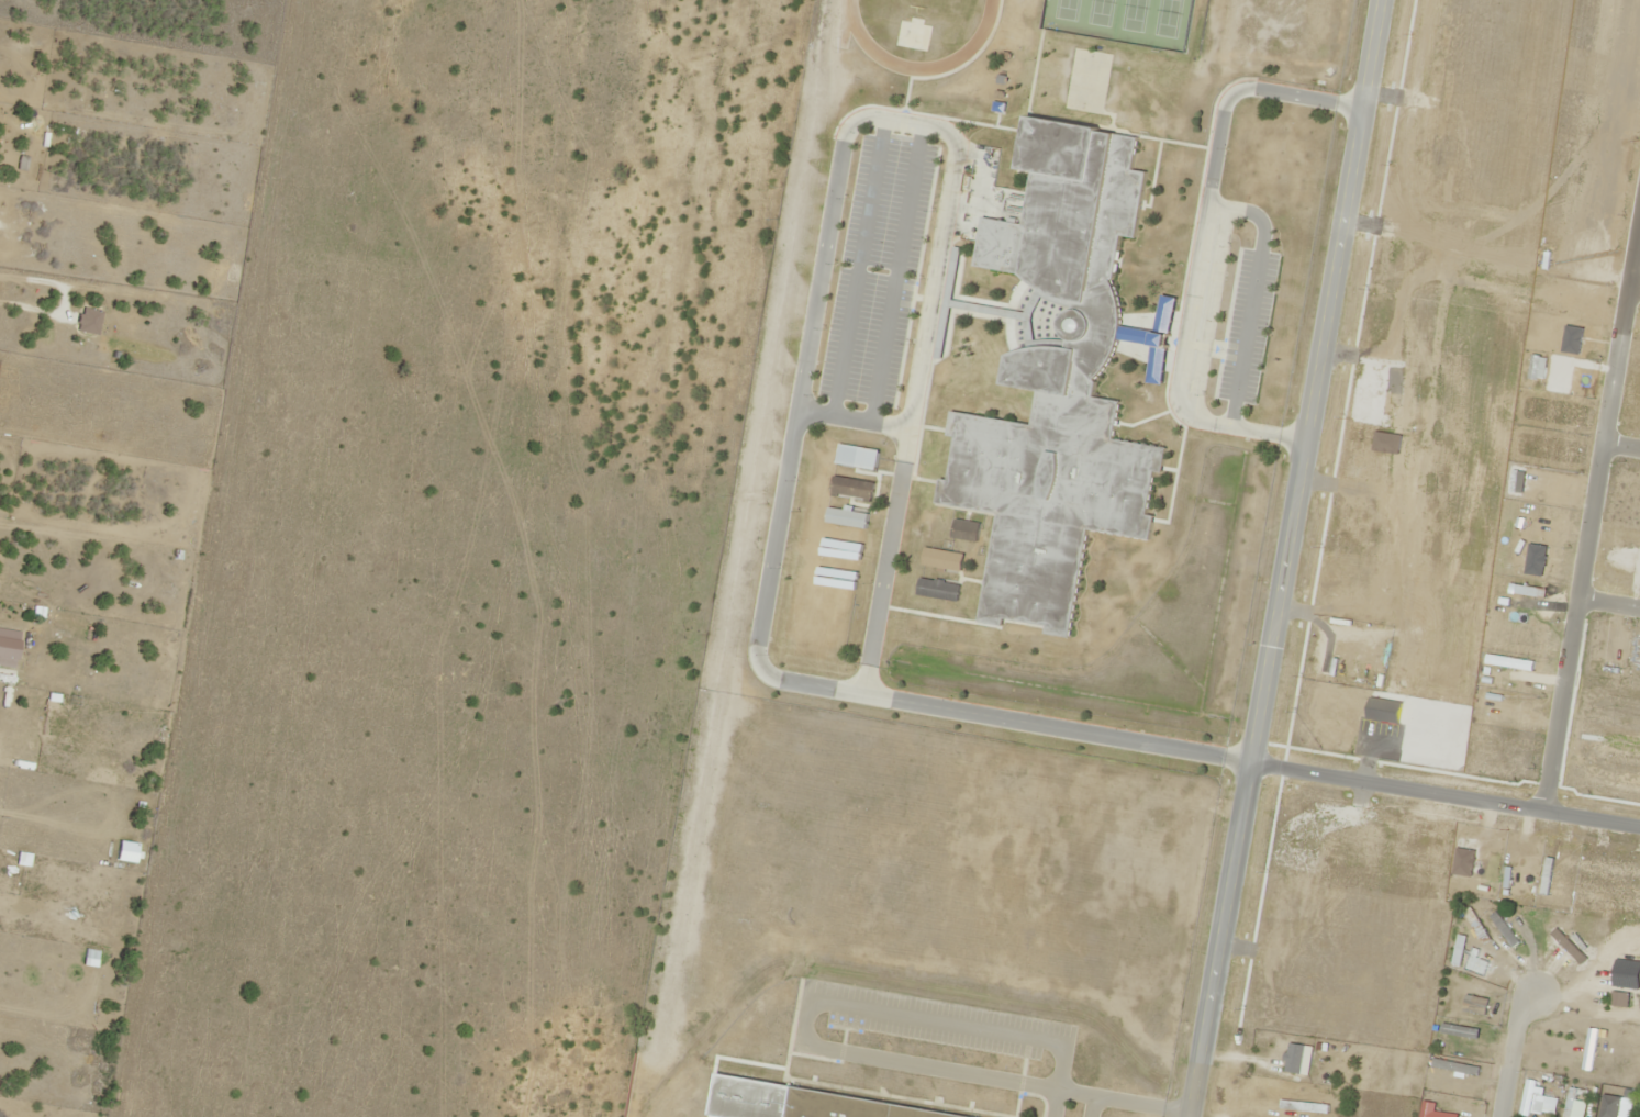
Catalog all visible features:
road: (1200, 248)
road: (859, 266)
road: (895, 272)
road: (1633, 288)
road: (1252, 293)
road: (814, 305)
building: (1060, 384)
road: (852, 418)
road: (1621, 445)
road: (1591, 512)
road: (1282, 558)
road: (1608, 602)
road: (1443, 793)
building: (750, 1050)
road: (1509, 1050)
building: (863, 1076)
building: (745, 1083)
building: (918, 1085)
building: (854, 1107)

